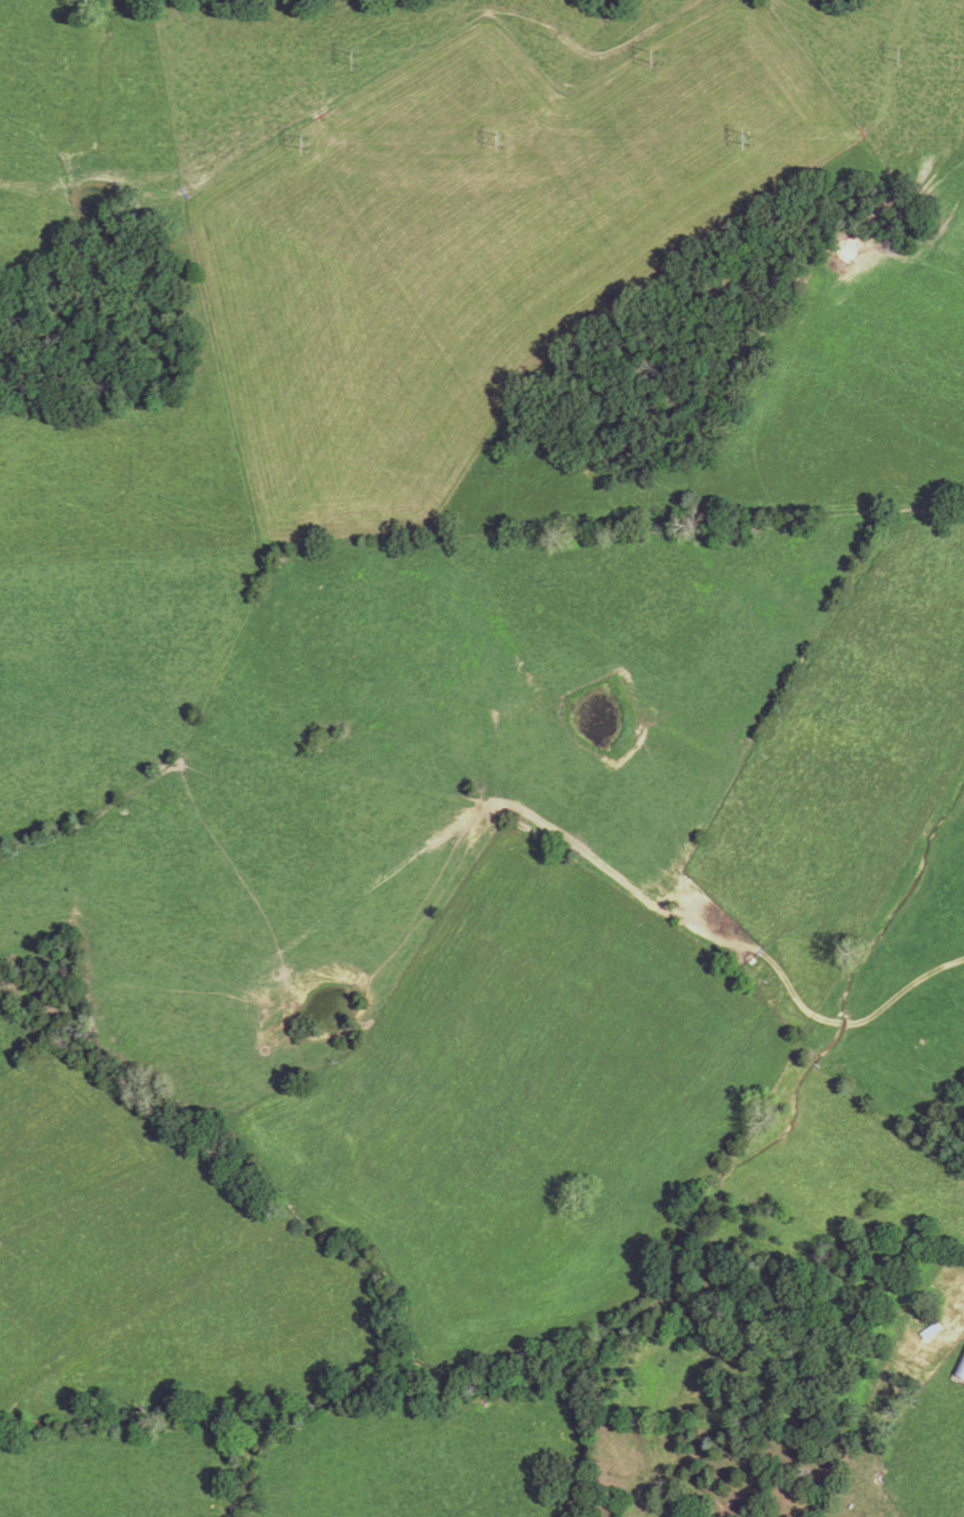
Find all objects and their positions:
building: (930, 1331)
building: (960, 1367)

